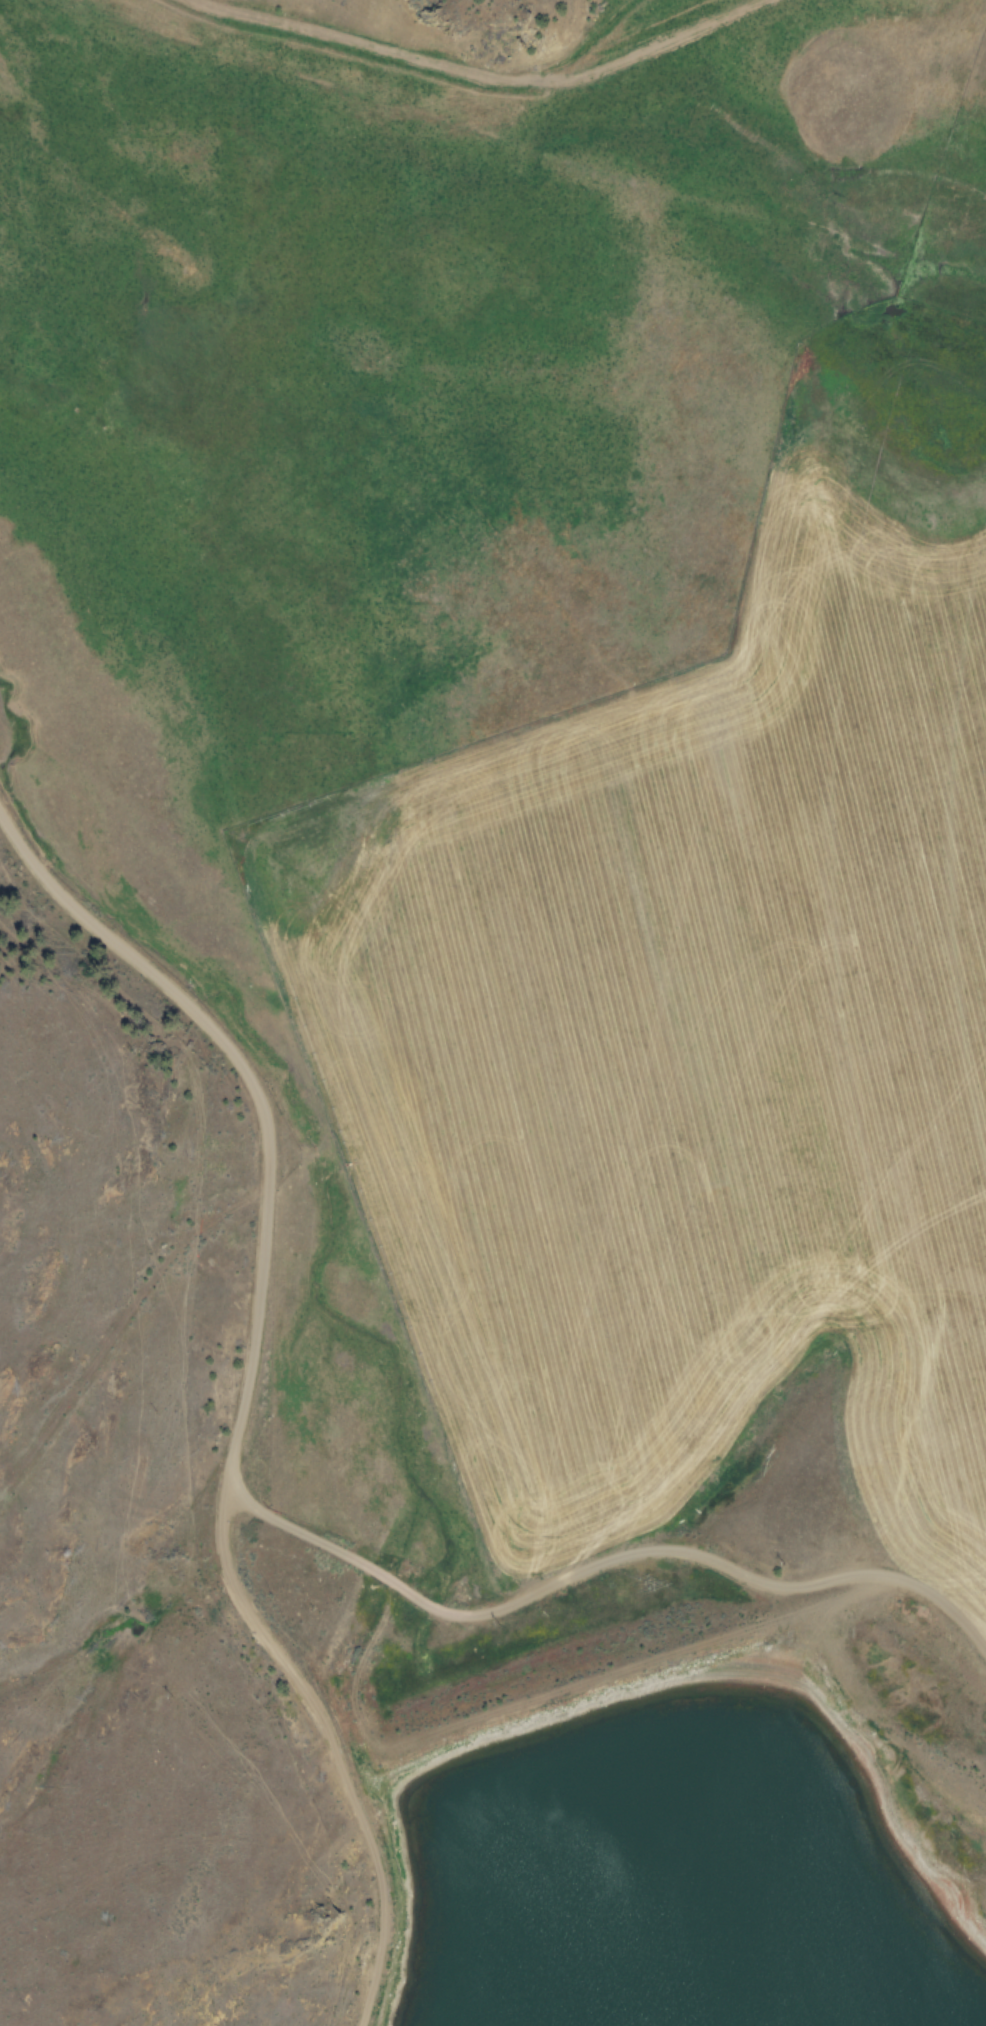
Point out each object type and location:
road: (534, 77)
crop: (705, 1011)
road: (266, 1092)
road: (619, 1539)
road: (978, 1547)
dam: (576, 1680)
road: (328, 1760)

